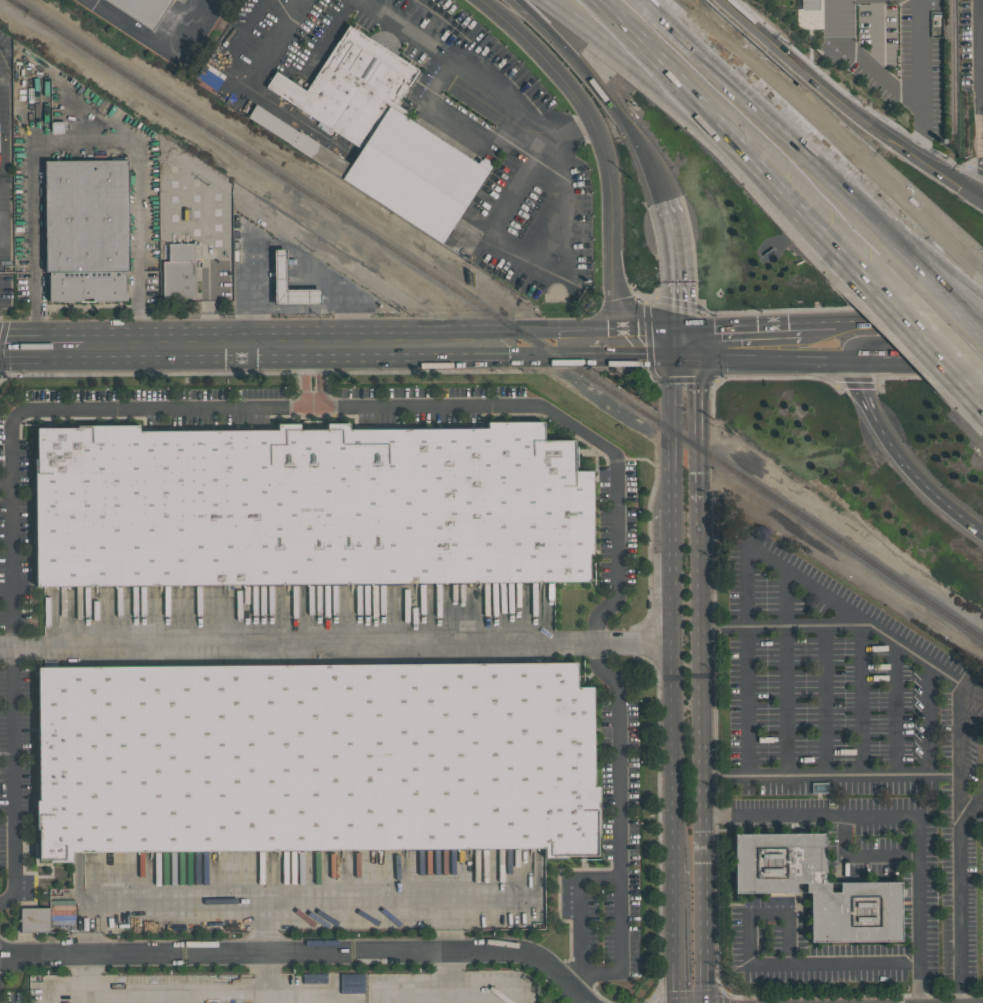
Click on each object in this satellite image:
railway: (18, 5)
building: (143, 10)
building: (803, 14)
road: (248, 27)
road: (982, 33)
road: (325, 35)
road: (149, 39)
railway: (950, 69)
road: (480, 75)
road: (814, 87)
road: (254, 88)
road: (603, 92)
road: (904, 96)
road: (919, 123)
road: (457, 124)
building: (386, 135)
road: (732, 136)
road: (807, 136)
building: (296, 140)
road: (85, 147)
road: (604, 149)
road: (920, 151)
railway: (278, 173)
road: (952, 184)
building: (87, 229)
road: (924, 235)
road: (280, 248)
road: (518, 257)
building: (280, 269)
gas station: (280, 269)
road: (679, 272)
road: (978, 273)
building: (179, 280)
road: (968, 298)
road: (933, 336)
road: (907, 341)
road: (816, 342)
road: (741, 343)
road: (314, 344)
traffic signals: (682, 344)
road: (649, 345)
road: (42, 346)
road: (567, 346)
road: (603, 346)
road: (308, 375)
road: (379, 405)
road: (697, 422)
road: (672, 425)
road: (896, 452)
railway: (765, 489)
building: (306, 507)
road: (773, 558)
road: (674, 574)
road: (843, 625)
road: (337, 644)
road: (14, 696)
road: (746, 702)
road: (675, 752)
road: (701, 753)
building: (312, 759)
road: (960, 764)
road: (869, 774)
road: (943, 774)
road: (904, 814)
road: (618, 830)
road: (861, 852)
building: (815, 887)
road: (266, 898)
road: (582, 912)
road: (961, 913)
building: (34, 920)
road: (264, 926)
road: (676, 933)
road: (303, 952)
road: (766, 965)
road: (267, 972)
road: (272, 992)

